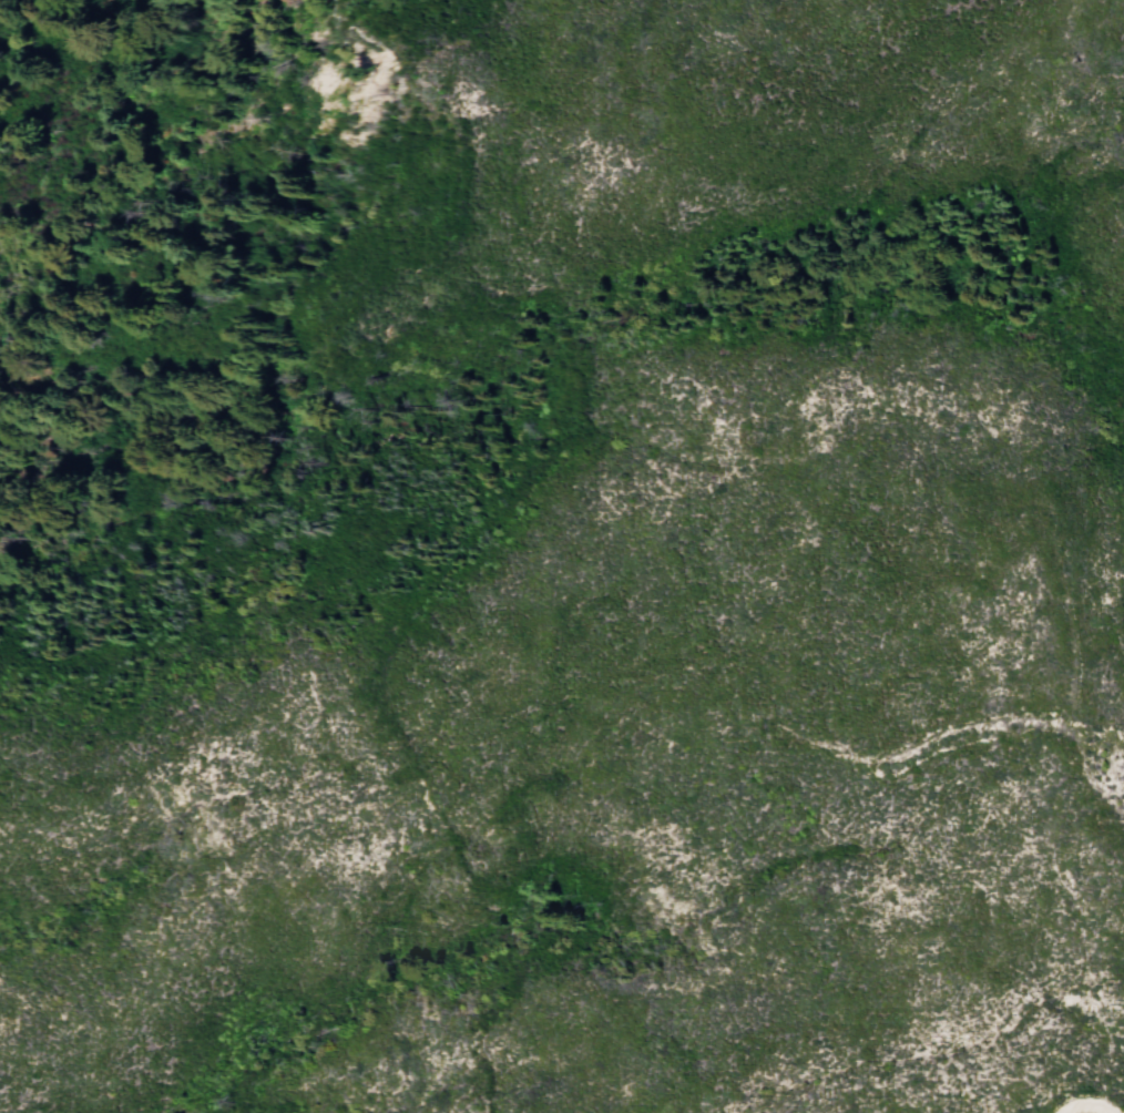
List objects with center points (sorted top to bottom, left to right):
road: (1084, 1103)

